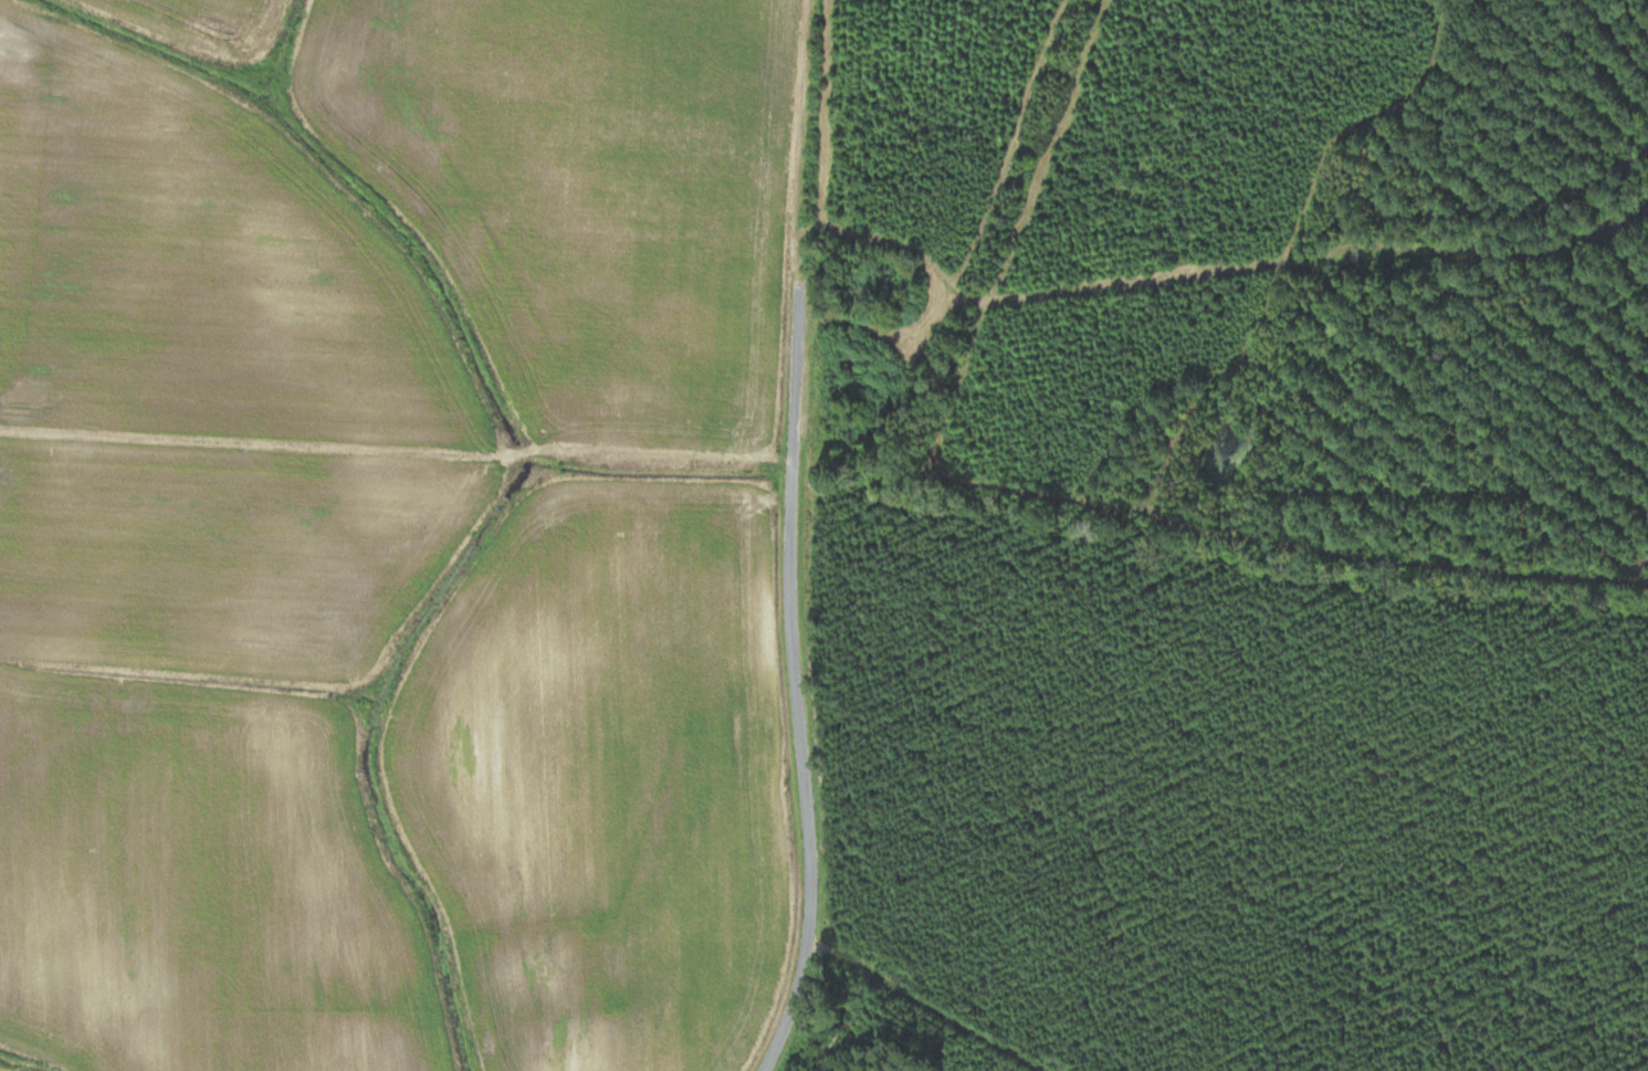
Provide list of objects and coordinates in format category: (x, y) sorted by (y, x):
road: (795, 680)
road: (923, 1004)

